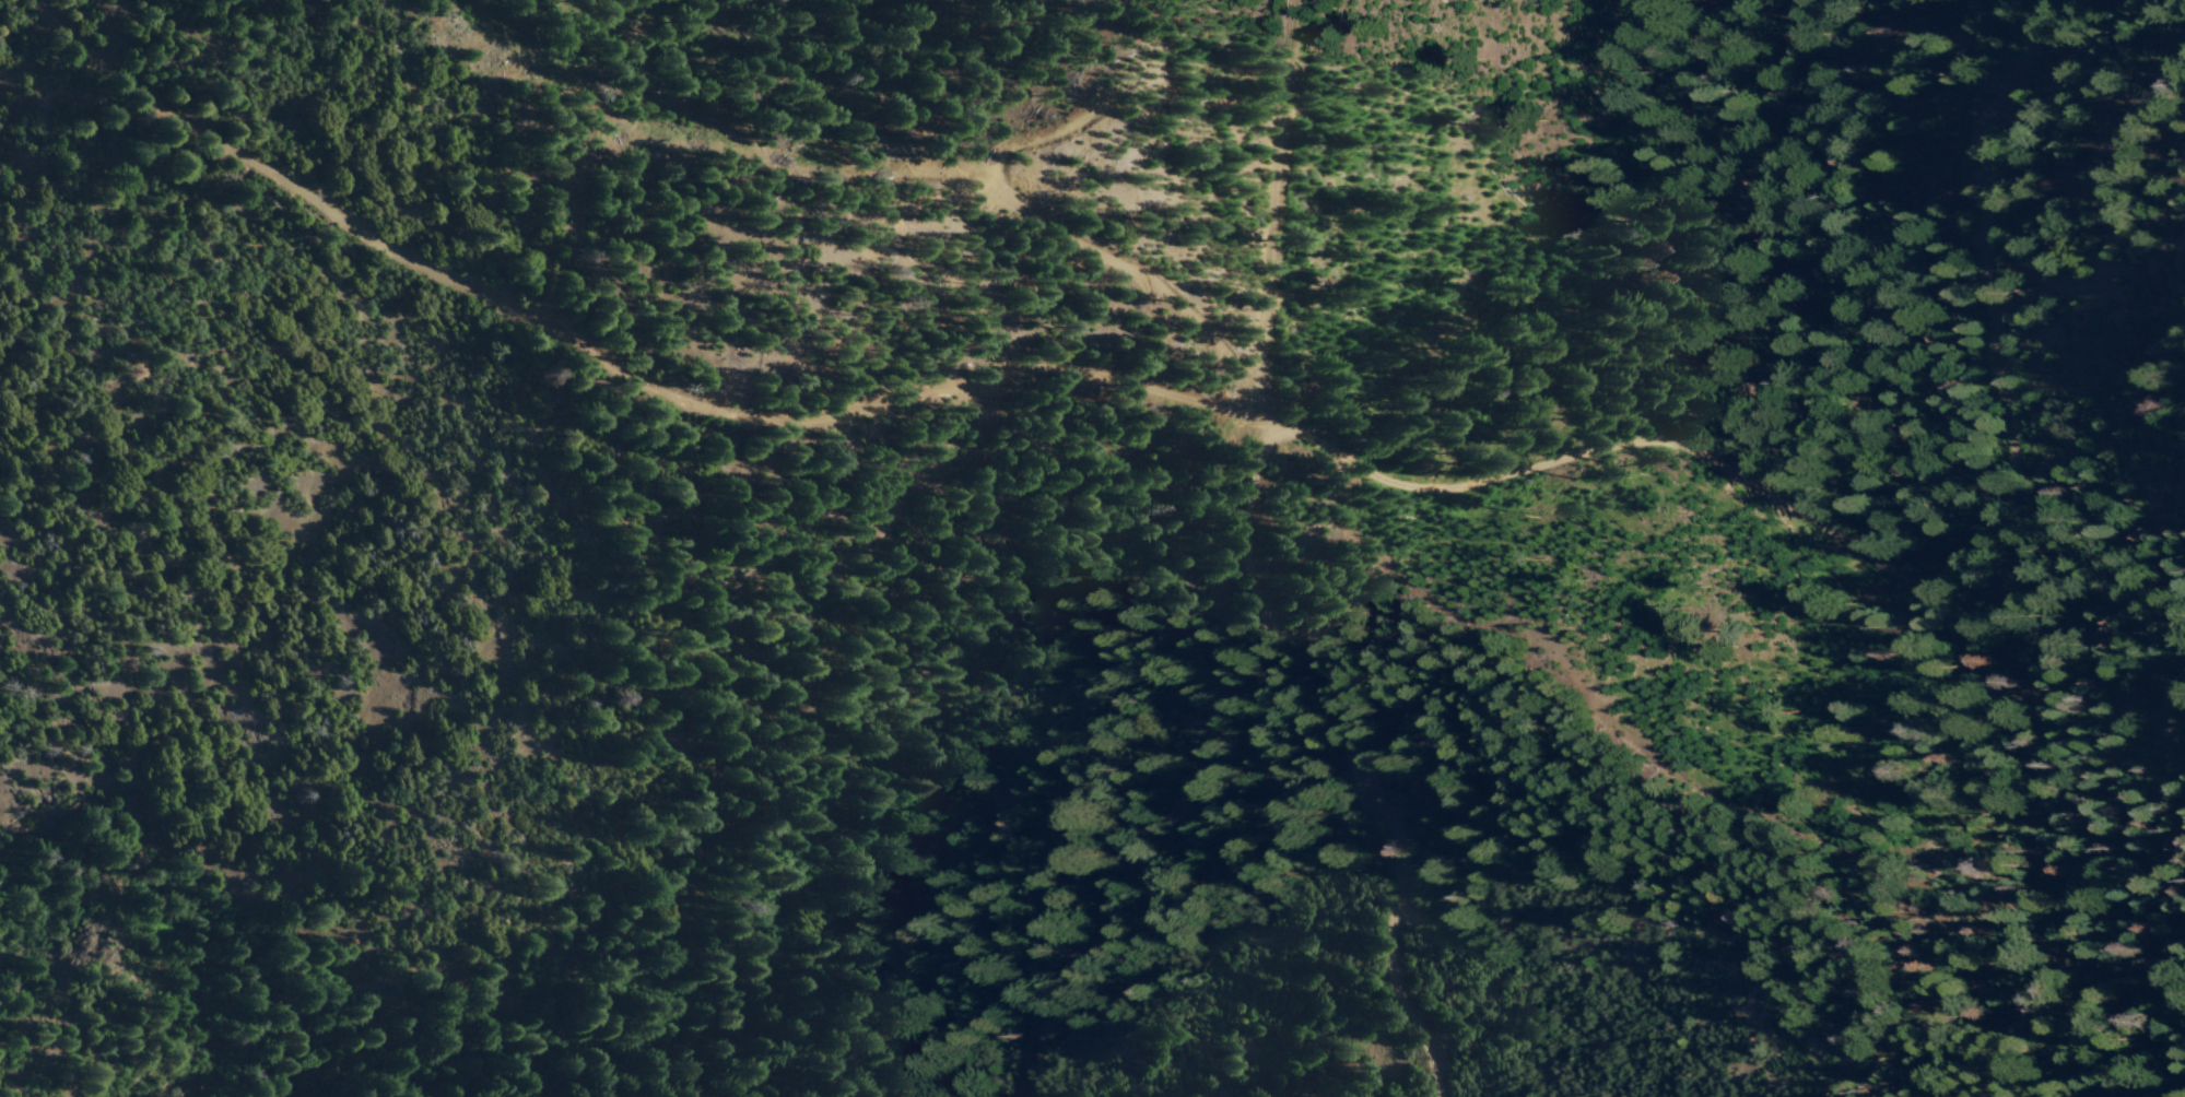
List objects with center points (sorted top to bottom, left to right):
road: (1259, 386)
road: (1332, 436)

